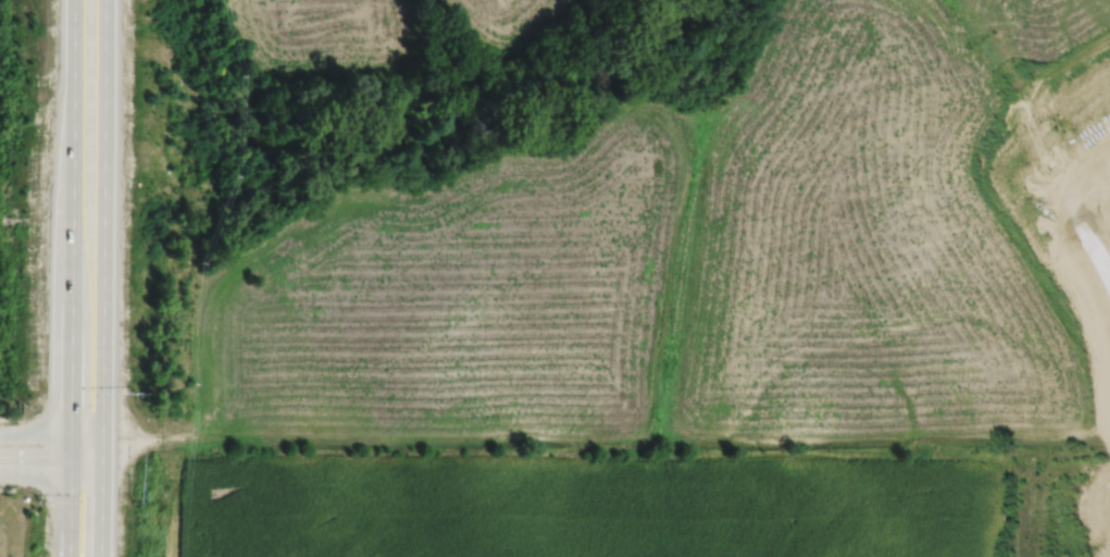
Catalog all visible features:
crop: (511, 20)
crop: (329, 36)
road: (1096, 247)
crop: (688, 263)
road: (72, 277)
road: (104, 278)
road: (9, 420)
road: (52, 437)
traffic signals: (72, 437)
traffic signals: (102, 450)
road: (52, 466)
traffic signals: (71, 467)
road: (8, 490)
crop: (585, 498)

